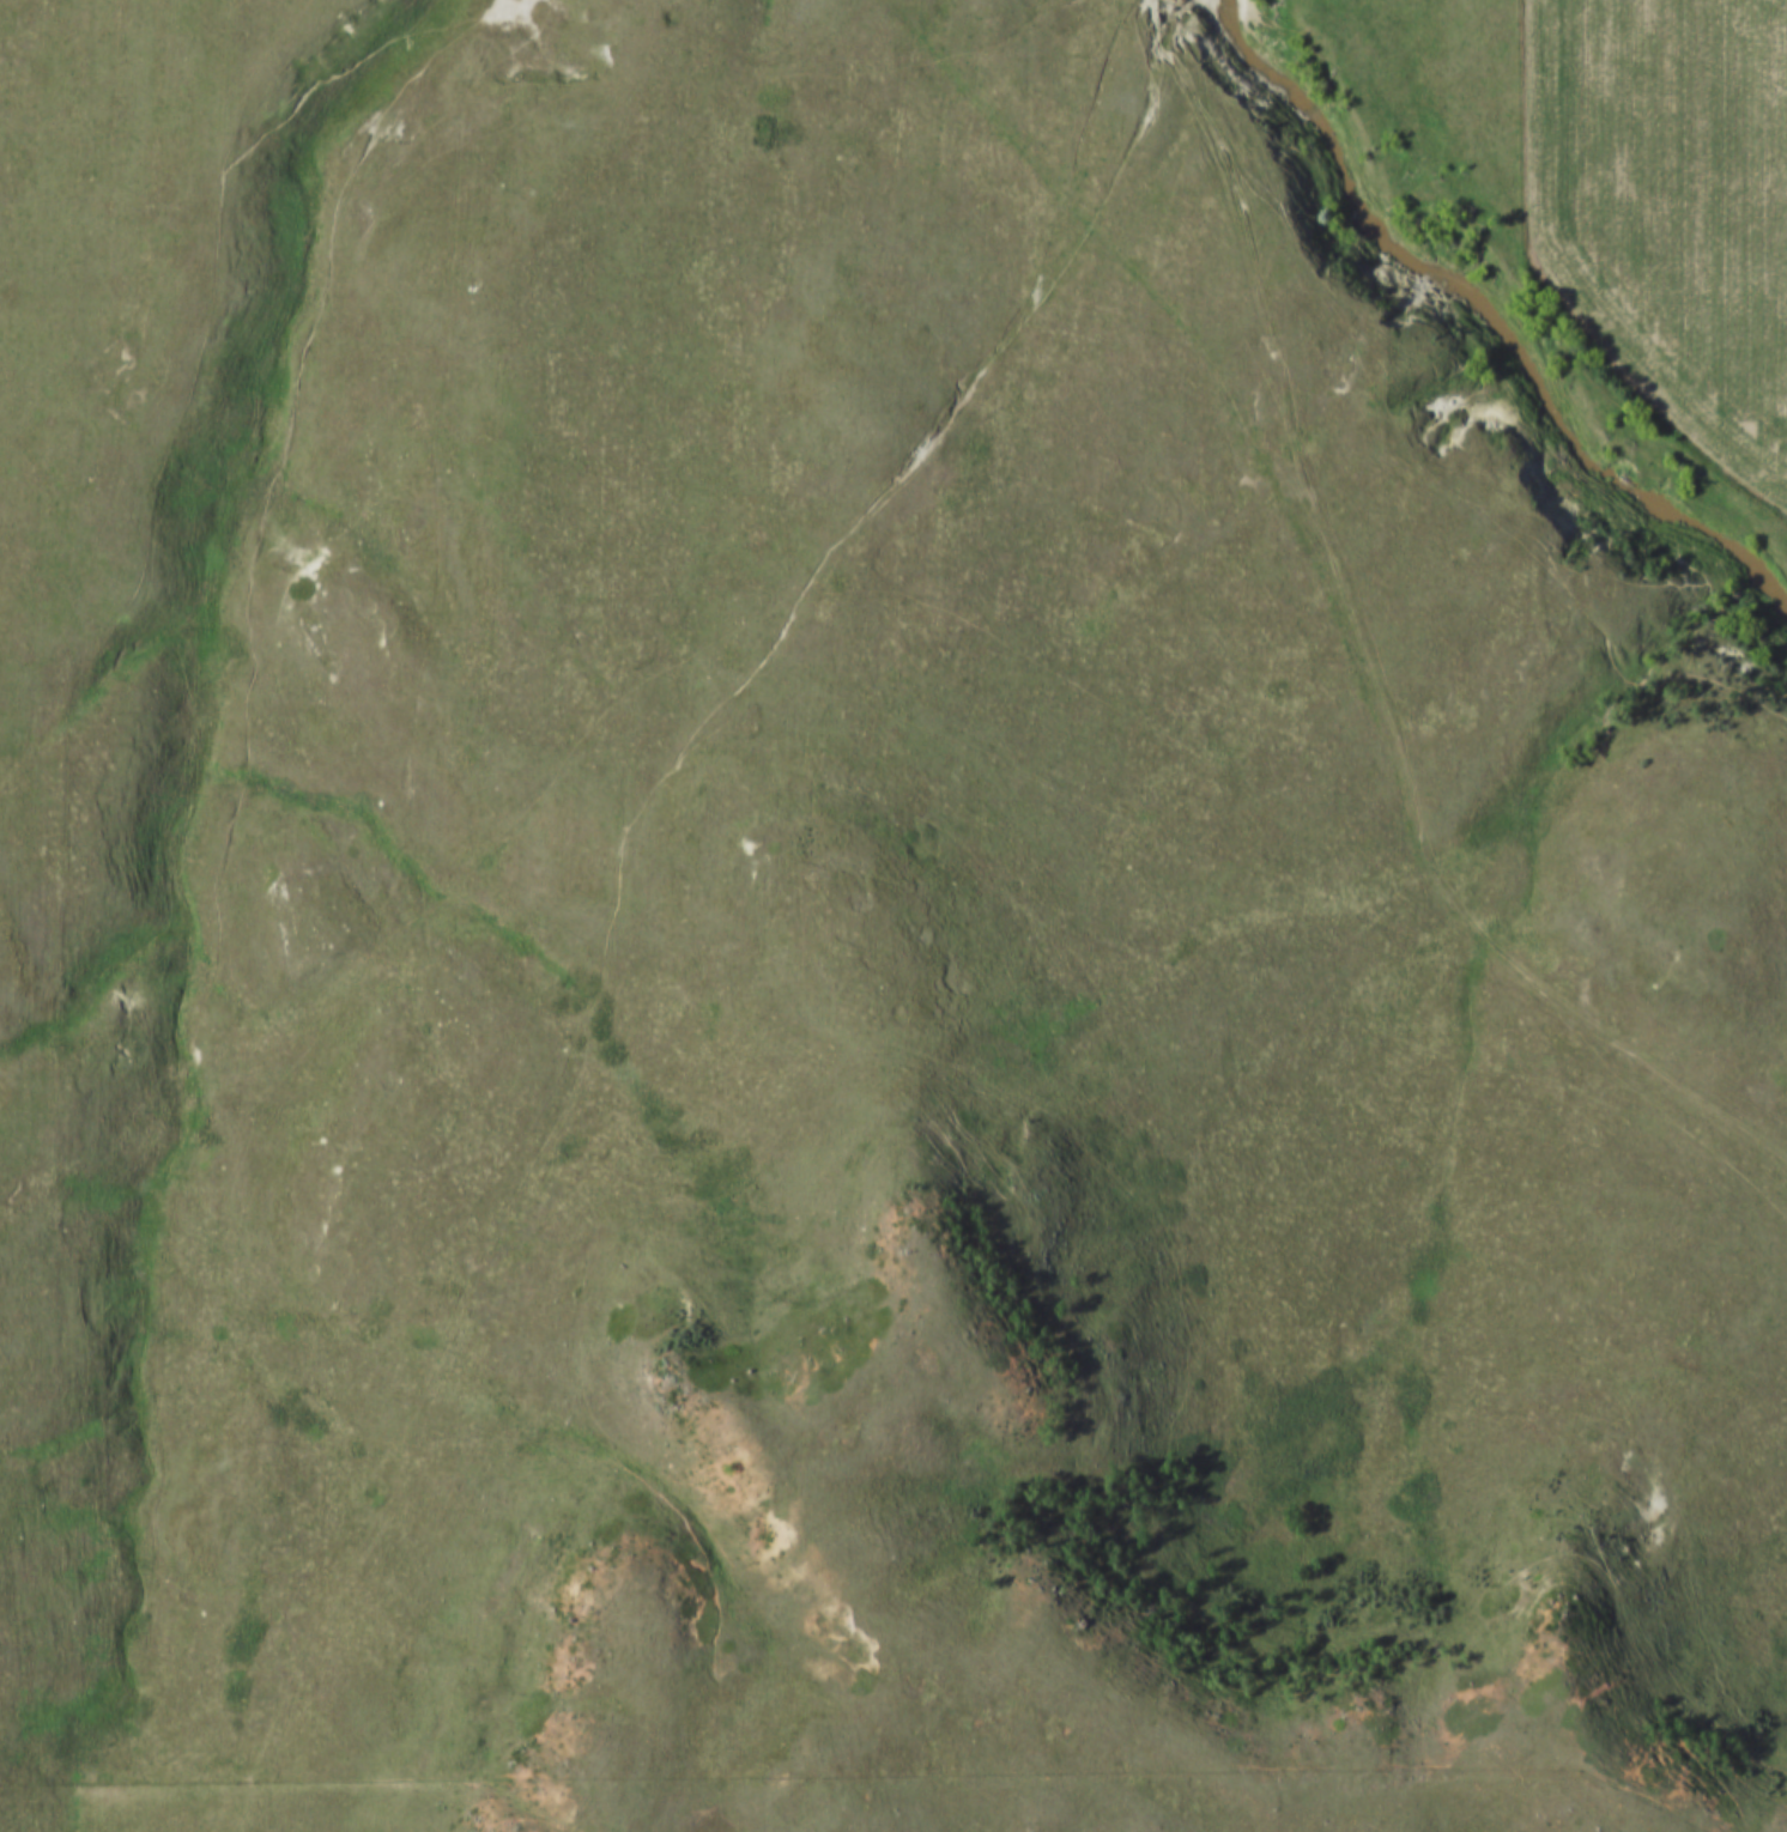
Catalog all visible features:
river: (1498, 309)

